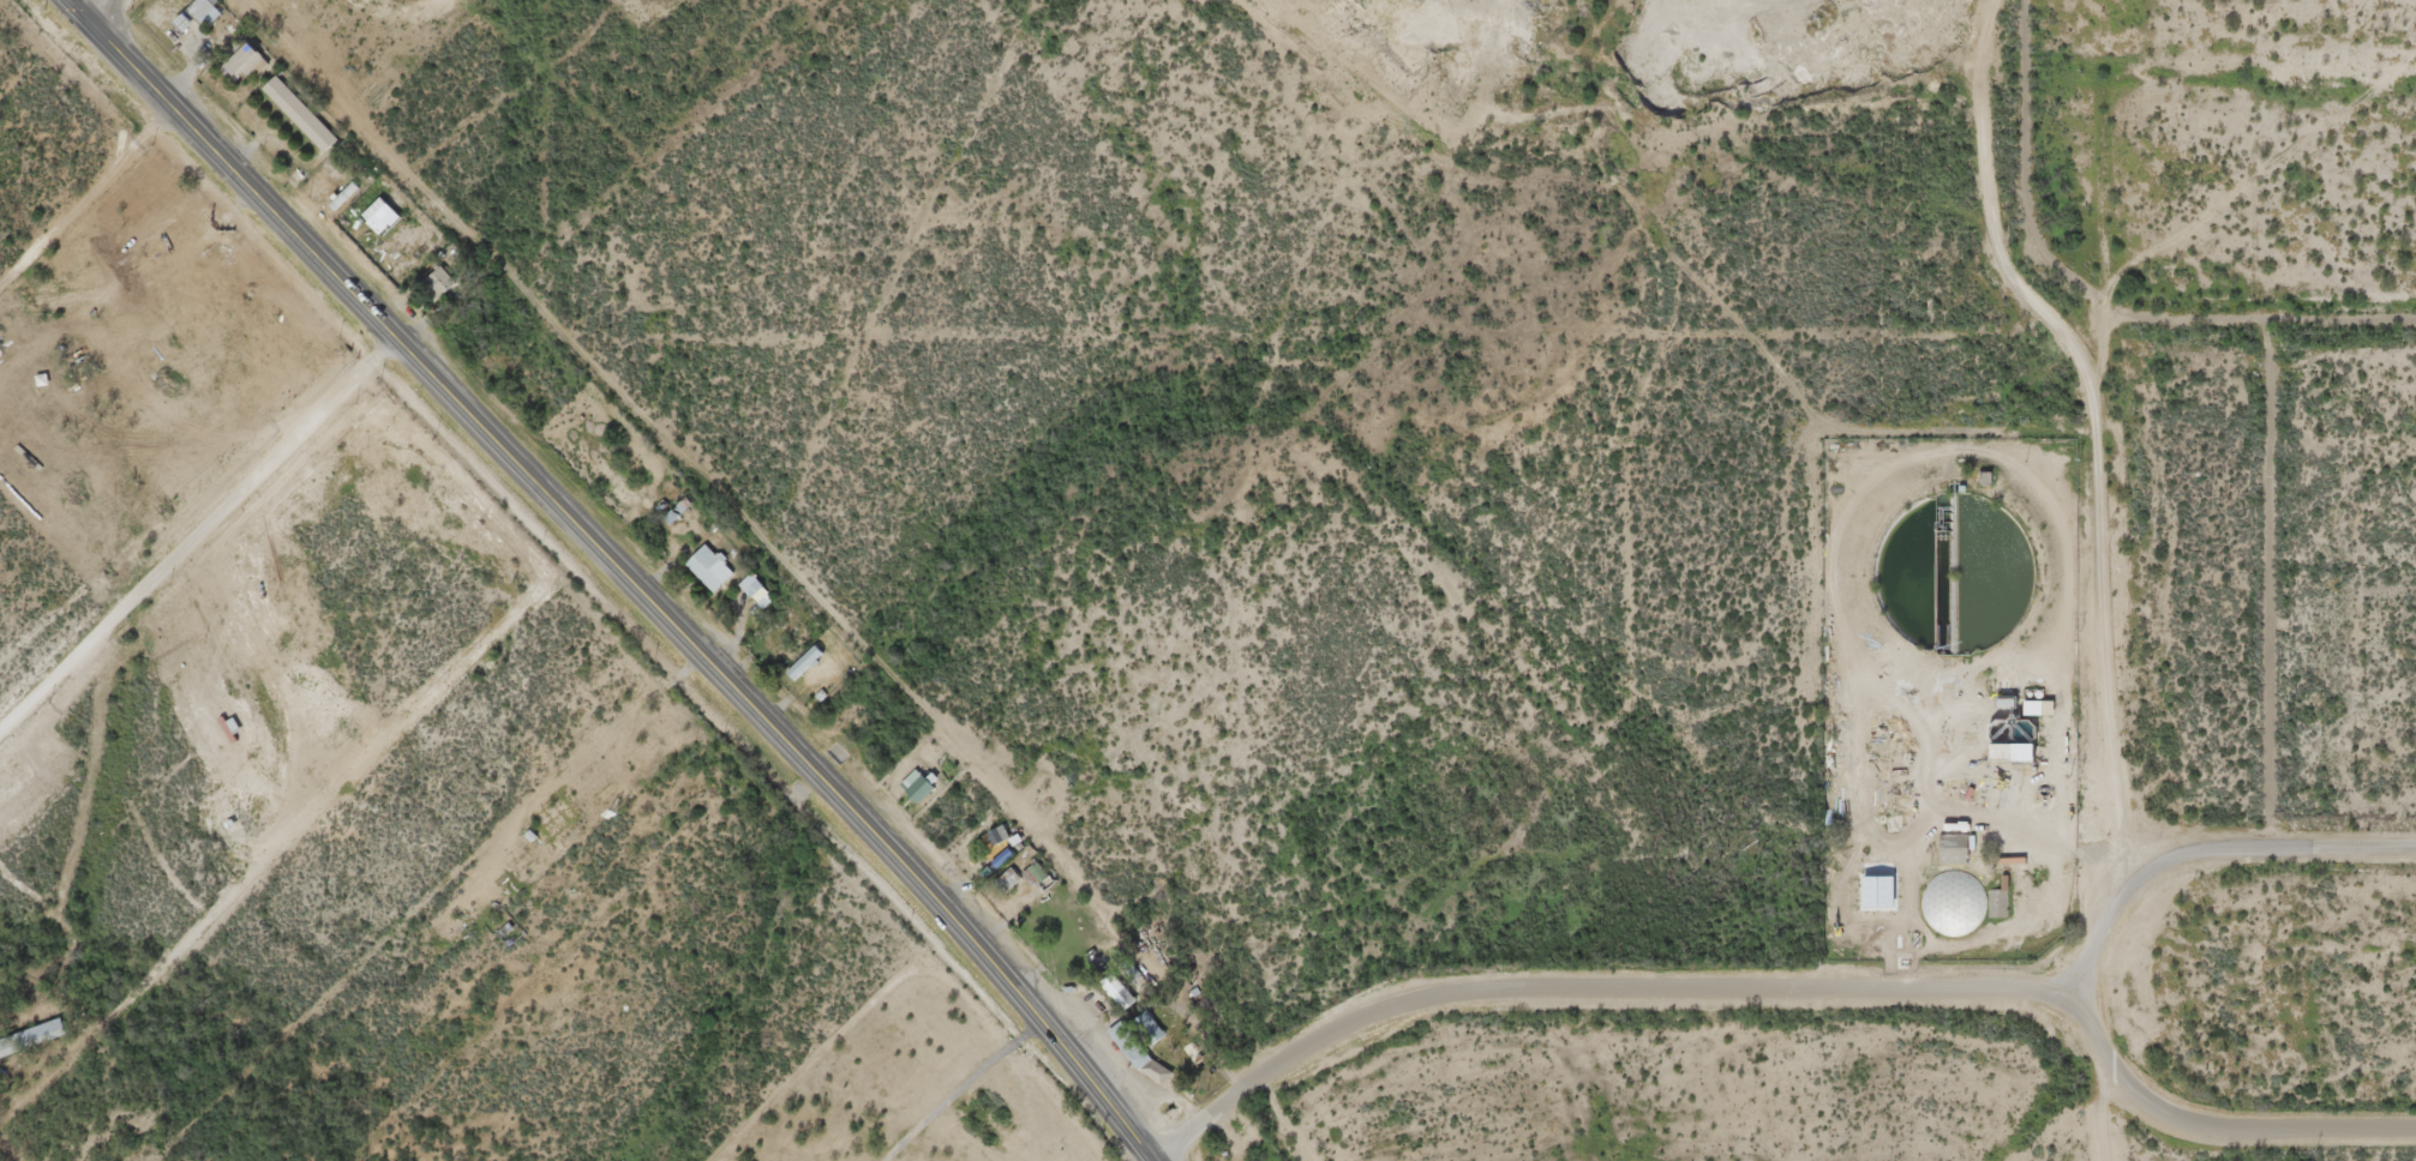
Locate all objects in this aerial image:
road: (84, 5)
building: (204, 10)
building: (346, 191)
road: (155, 277)
building: (438, 279)
road: (2098, 293)
road: (194, 494)
building: (679, 506)
building: (711, 564)
road: (622, 571)
building: (2025, 741)
building: (1949, 844)
road: (2219, 854)
building: (1041, 872)
building: (1008, 877)
building: (1996, 898)
road: (1593, 981)
building: (1117, 987)
building: (1149, 1024)
building: (31, 1033)
building: (1129, 1041)
road: (2116, 1113)
road: (2205, 1139)

